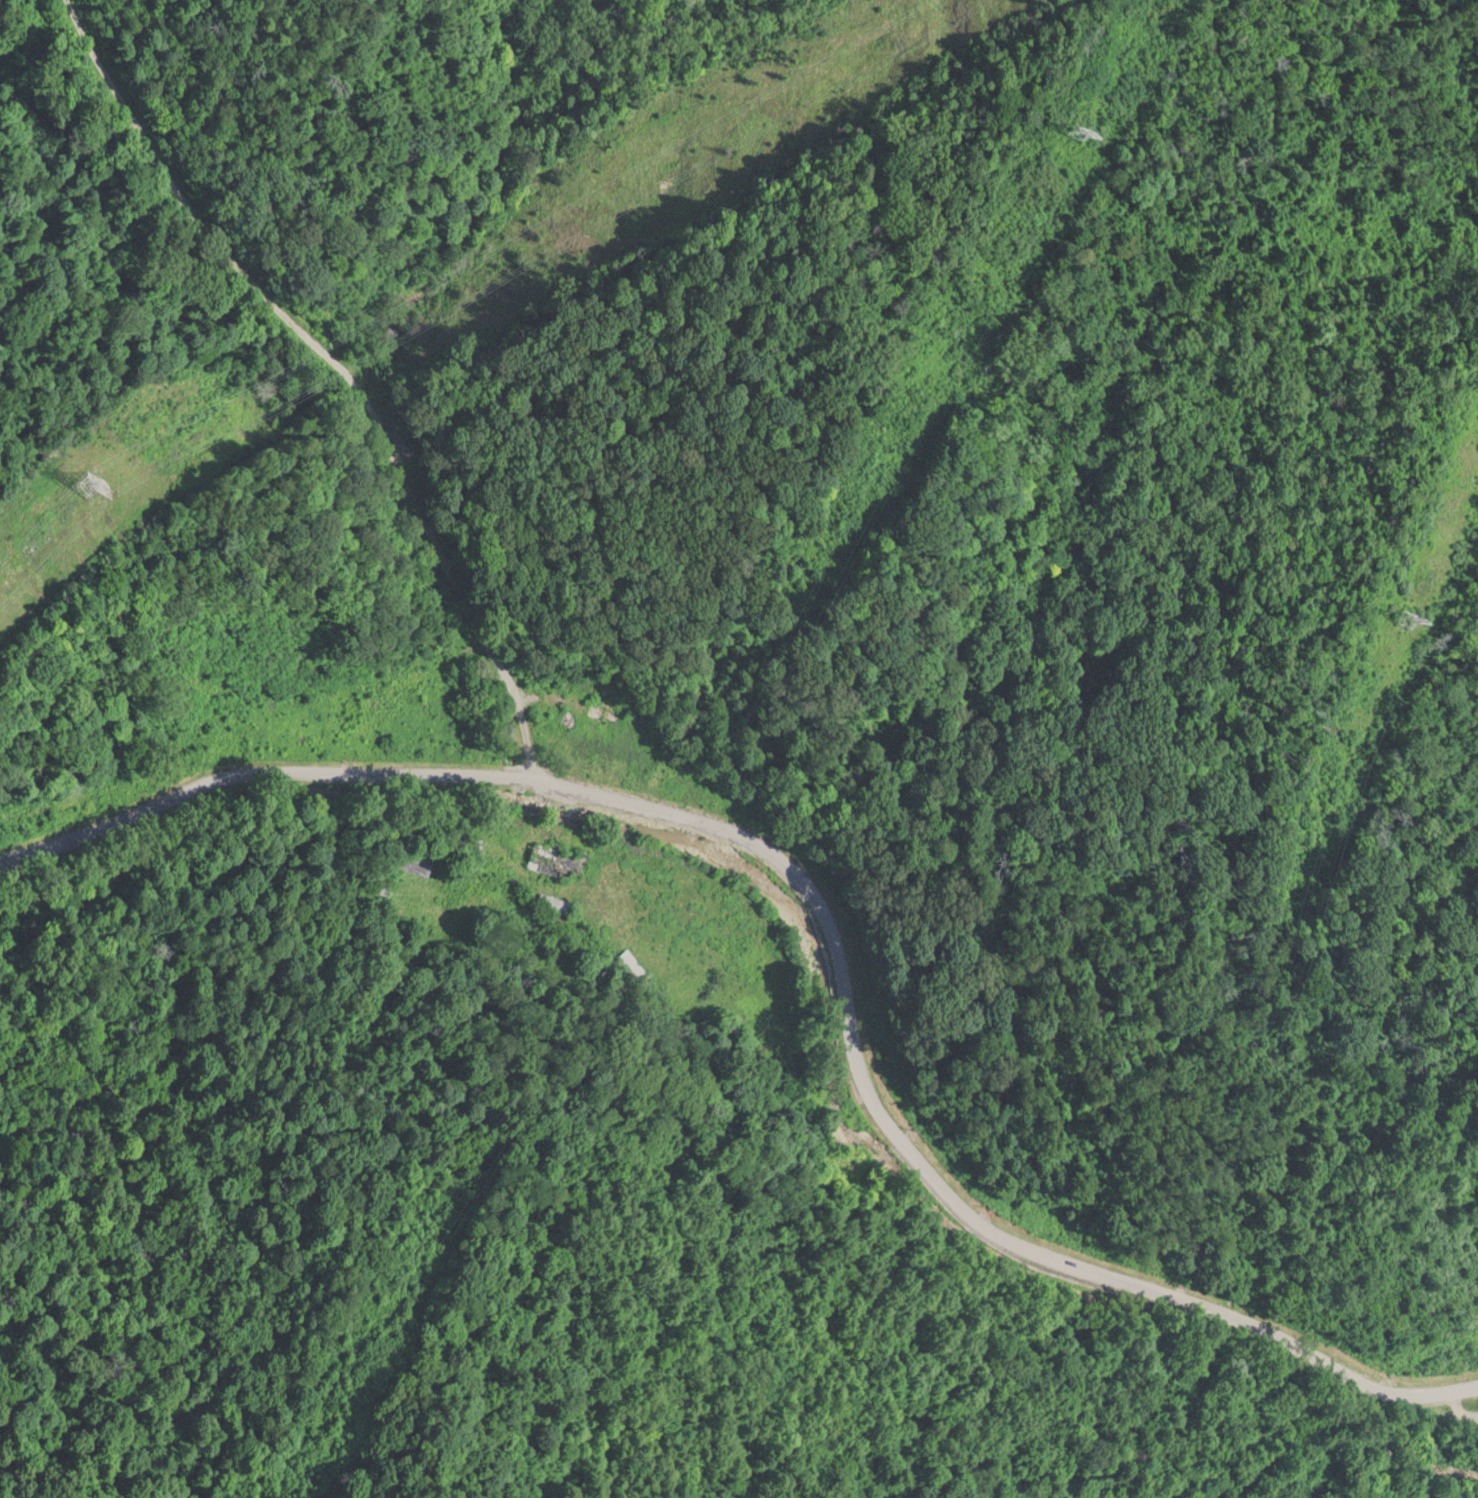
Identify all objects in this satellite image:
power tower: (103, 455)
power tower: (1409, 617)
building: (406, 669)
building: (613, 703)
building: (599, 730)
building: (558, 858)
road: (827, 919)

